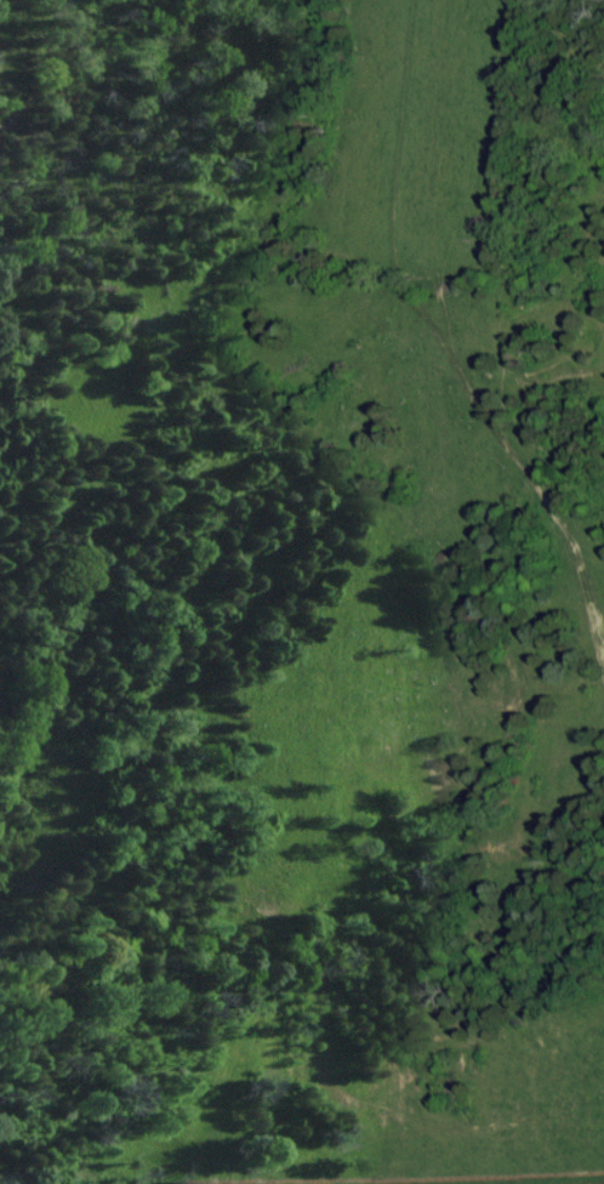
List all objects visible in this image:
crop: (411, 118)

